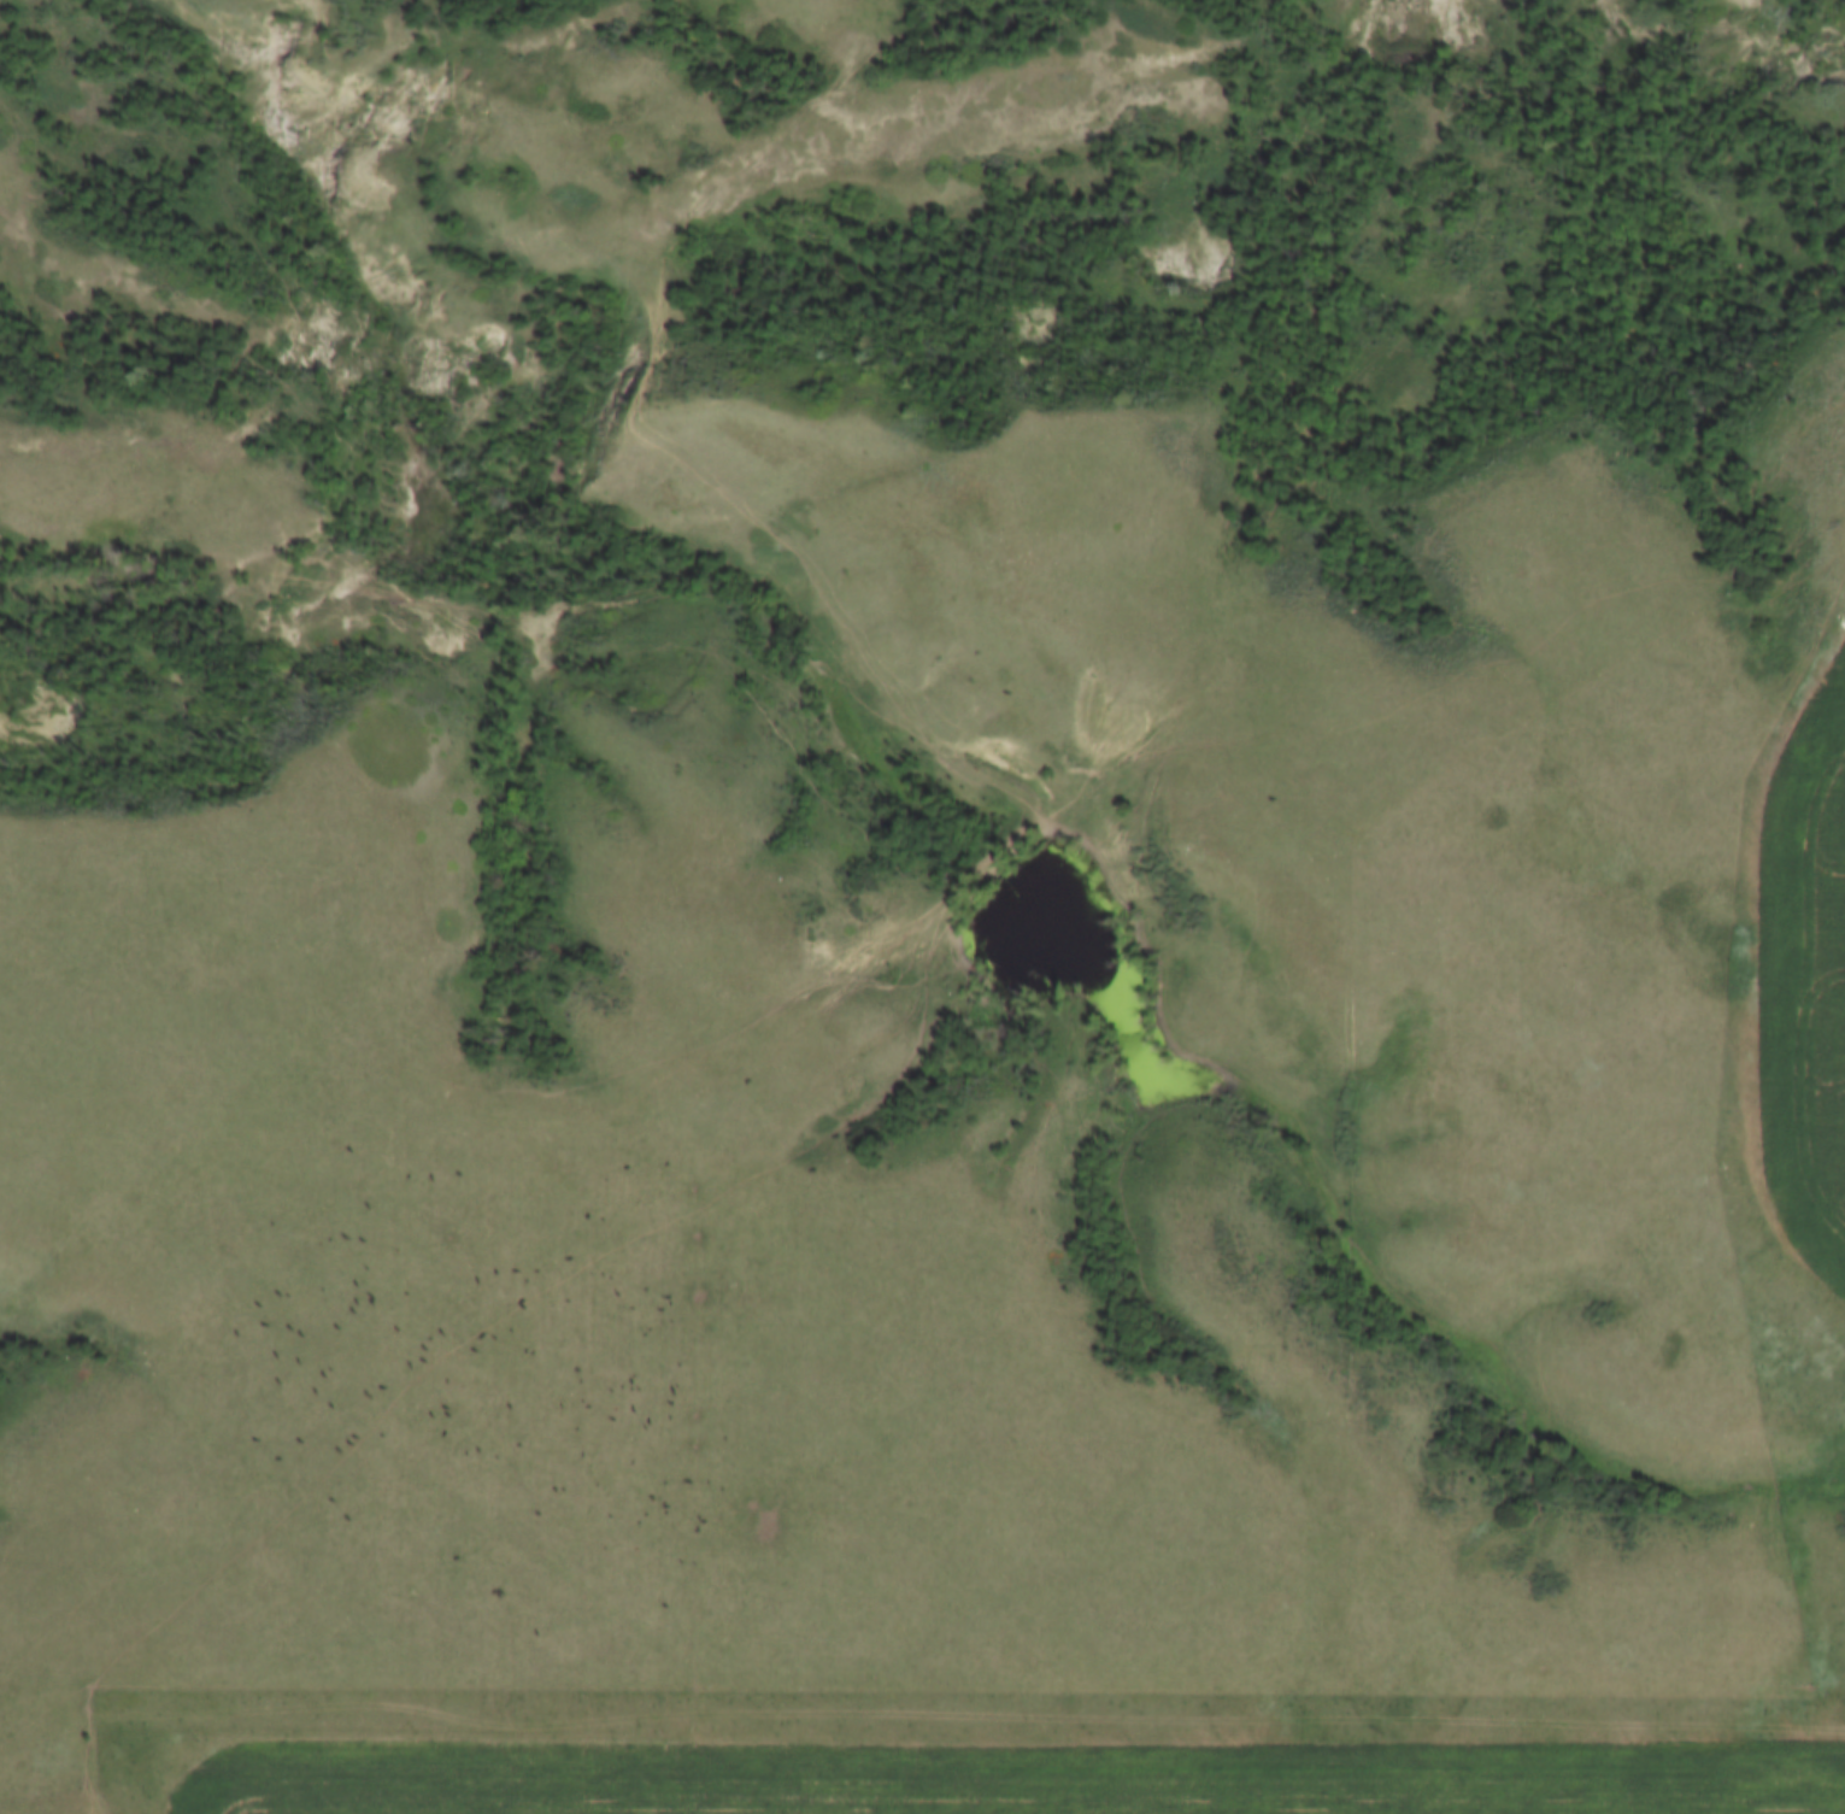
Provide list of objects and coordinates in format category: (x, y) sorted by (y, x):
road: (916, 1726)

